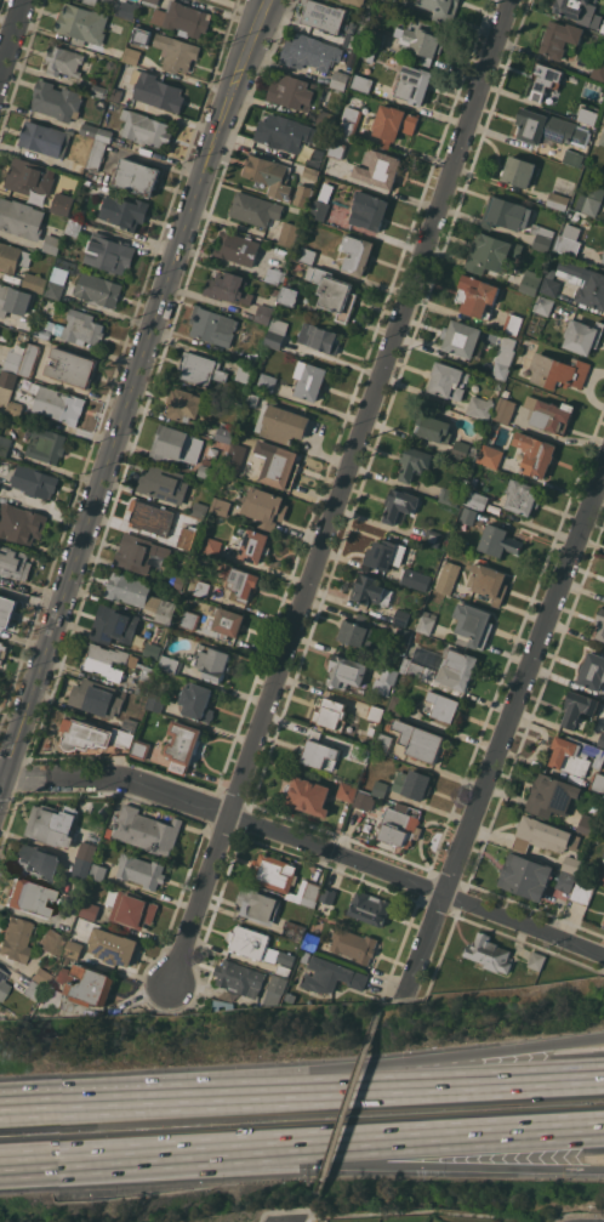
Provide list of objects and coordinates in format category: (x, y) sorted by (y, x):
building: (110, 0)
building: (91, 1)
building: (150, 1)
building: (357, 1)
building: (388, 1)
building: (441, 8)
building: (127, 10)
building: (580, 12)
building: (321, 16)
building: (183, 18)
building: (82, 24)
road: (257, 24)
building: (560, 38)
building: (377, 39)
building: (422, 39)
road: (13, 40)
building: (355, 42)
building: (176, 52)
building: (309, 52)
building: (369, 53)
building: (136, 57)
building: (63, 61)
building: (110, 63)
building: (598, 69)
road: (240, 74)
building: (546, 79)
building: (340, 80)
building: (361, 83)
building: (414, 84)
building: (98, 90)
building: (156, 90)
building: (292, 91)
building: (116, 93)
building: (56, 100)
building: (587, 115)
building: (324, 118)
building: (349, 120)
building: (393, 124)
building: (144, 127)
building: (549, 129)
building: (87, 130)
building: (103, 133)
building: (289, 137)
building: (602, 137)
building: (45, 138)
building: (336, 149)
building: (96, 154)
building: (572, 157)
building: (378, 167)
building: (518, 170)
building: (310, 172)
building: (269, 175)
building: (30, 176)
building: (137, 176)
building: (303, 194)
building: (558, 200)
building: (591, 200)
building: (62, 208)
building: (255, 209)
building: (319, 209)
building: (369, 210)
building: (125, 211)
building: (506, 214)
building: (574, 214)
building: (21, 218)
building: (74, 228)
building: (289, 234)
building: (542, 237)
building: (569, 239)
building: (51, 244)
building: (238, 248)
building: (109, 251)
building: (490, 252)
building: (357, 254)
building: (603, 254)
building: (307, 255)
building: (12, 257)
building: (603, 258)
building: (275, 274)
building: (530, 282)
building: (35, 283)
building: (594, 283)
building: (84, 284)
building: (549, 284)
building: (228, 288)
building: (275, 291)
building: (334, 292)
building: (289, 295)
building: (478, 295)
building: (13, 300)
building: (543, 305)
building: (263, 314)
building: (513, 323)
building: (212, 325)
building: (73, 328)
building: (277, 333)
building: (582, 335)
building: (461, 337)
building: (319, 339)
building: (13, 358)
building: (503, 358)
building: (29, 359)
building: (73, 366)
building: (201, 369)
building: (559, 371)
building: (245, 373)
building: (7, 377)
building: (309, 380)
building: (448, 380)
building: (267, 382)
building: (253, 399)
building: (58, 404)
building: (184, 404)
building: (13, 408)
building: (480, 408)
building: (505, 408)
building: (549, 415)
building: (284, 424)
building: (432, 428)
building: (224, 434)
building: (4, 444)
building: (46, 444)
building: (175, 444)
building: (460, 449)
building: (535, 454)
building: (490, 455)
building: (235, 456)
building: (207, 461)
building: (415, 462)
road: (107, 465)
building: (278, 465)
building: (209, 471)
building: (0, 476)
building: (34, 481)
building: (163, 483)
road: (341, 491)
building: (450, 495)
building: (522, 496)
building: (475, 500)
building: (399, 505)
building: (221, 506)
building: (264, 507)
building: (199, 510)
building: (468, 515)
building: (150, 517)
building: (21, 523)
building: (432, 536)
building: (187, 538)
building: (498, 541)
building: (252, 544)
building: (212, 546)
building: (138, 552)
building: (386, 553)
building: (13, 562)
building: (448, 576)
building: (416, 579)
building: (177, 581)
building: (489, 581)
building: (243, 582)
building: (203, 589)
building: (371, 591)
building: (138, 595)
building: (6, 610)
building: (401, 618)
building: (189, 620)
building: (427, 621)
building: (227, 623)
building: (474, 624)
building: (600, 624)
building: (114, 625)
building: (359, 632)
building: (404, 636)
building: (417, 637)
building: (2, 650)
building: (152, 650)
building: (211, 661)
building: (170, 664)
building: (103, 669)
building: (417, 669)
building: (456, 671)
building: (592, 671)
building: (347, 673)
building: (386, 680)
road: (525, 686)
building: (96, 698)
building: (155, 701)
building: (196, 701)
building: (397, 705)
building: (443, 705)
building: (579, 710)
building: (375, 712)
building: (331, 714)
building: (130, 724)
building: (388, 726)
building: (84, 735)
building: (129, 739)
building: (600, 739)
building: (420, 740)
building: (382, 743)
building: (182, 745)
building: (139, 749)
building: (319, 751)
building: (360, 751)
building: (575, 755)
road: (1, 780)
building: (598, 781)
building: (412, 783)
road: (1, 786)
building: (380, 789)
building: (347, 791)
building: (307, 795)
building: (552, 795)
building: (365, 801)
building: (80, 806)
road: (228, 817)
building: (52, 823)
building: (587, 824)
building: (399, 825)
building: (147, 830)
building: (92, 837)
building: (564, 837)
building: (522, 843)
building: (87, 851)
building: (38, 862)
building: (603, 862)
building: (571, 864)
building: (81, 868)
building: (141, 870)
building: (98, 871)
building: (273, 873)
building: (525, 876)
building: (602, 877)
building: (565, 881)
building: (310, 889)
building: (582, 891)
building: (327, 894)
building: (27, 897)
building: (256, 904)
building: (89, 908)
building: (370, 908)
building: (132, 910)
road: (525, 926)
building: (294, 931)
building: (15, 939)
building: (247, 940)
building: (310, 942)
building: (51, 943)
building: (353, 944)
building: (113, 947)
road: (427, 947)
building: (73, 949)
building: (489, 953)
building: (275, 956)
building: (67, 960)
building: (537, 960)
building: (284, 970)
building: (531, 972)
building: (331, 976)
building: (39, 977)
building: (250, 981)
building: (2, 984)
building: (86, 984)
building: (30, 990)
road: (392, 991)
building: (49, 999)
road: (121, 1007)
road: (353, 1072)
road: (352, 1089)
road: (346, 1103)
road: (51, 1108)
road: (354, 1142)
road: (52, 1159)
road: (354, 1163)
road: (410, 1210)
road: (301, 1214)

